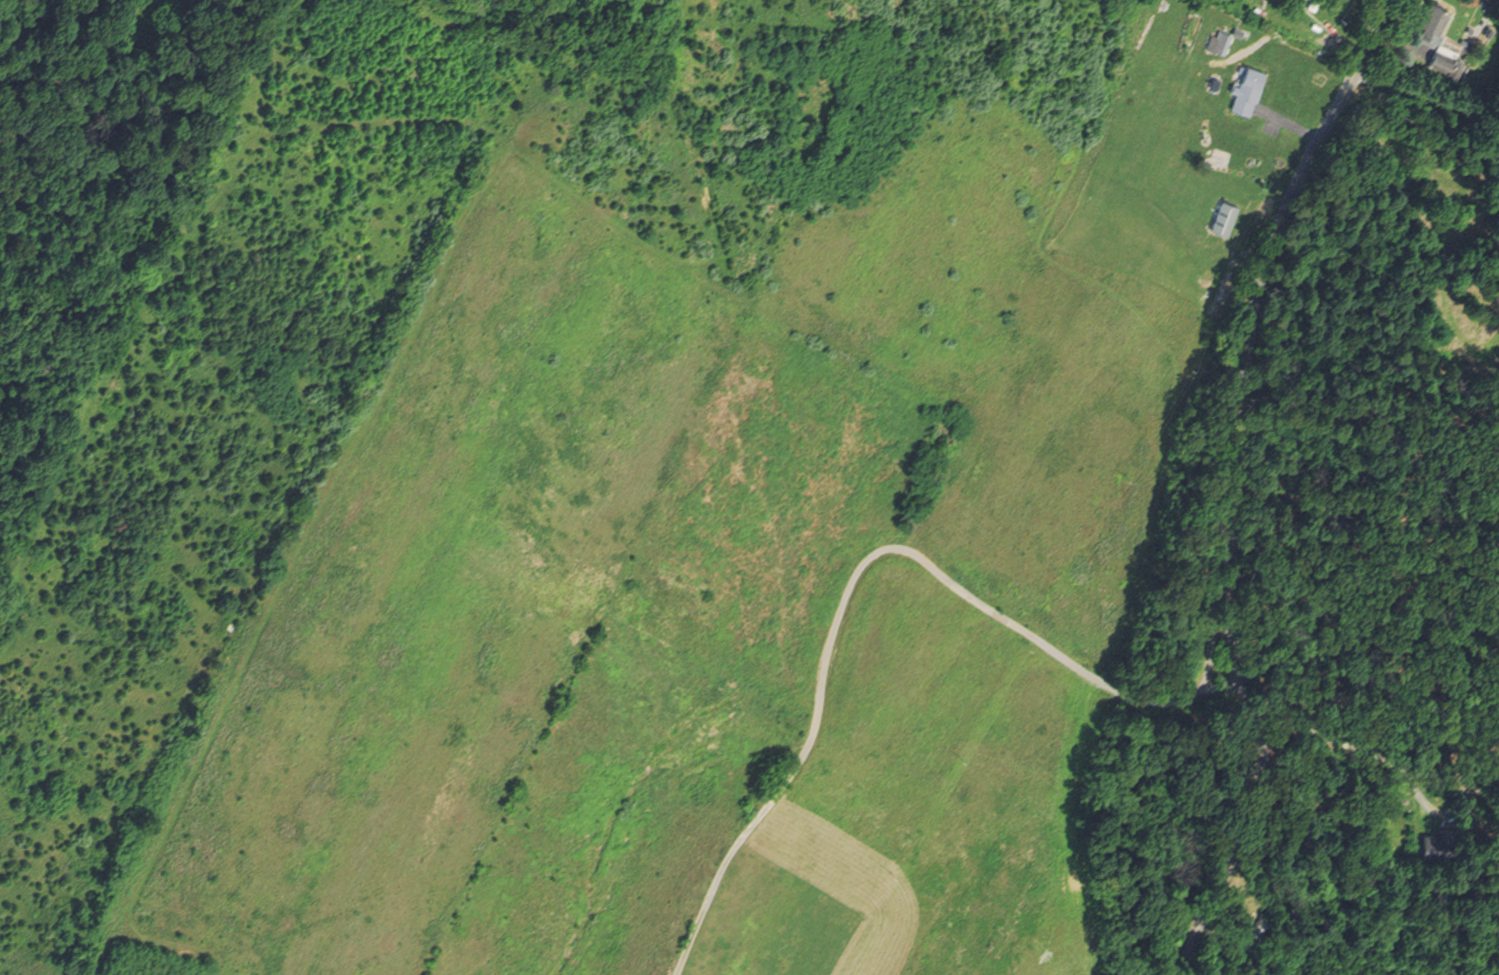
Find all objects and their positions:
building: (1310, 4)
building: (1430, 25)
building: (1238, 31)
building: (1220, 44)
road: (1337, 45)
building: (1214, 85)
building: (1246, 91)
road: (1288, 125)
building: (1221, 216)
road: (1240, 483)
road: (855, 573)
road: (1373, 755)
road: (1421, 803)
building: (1433, 837)
building: (1256, 927)

